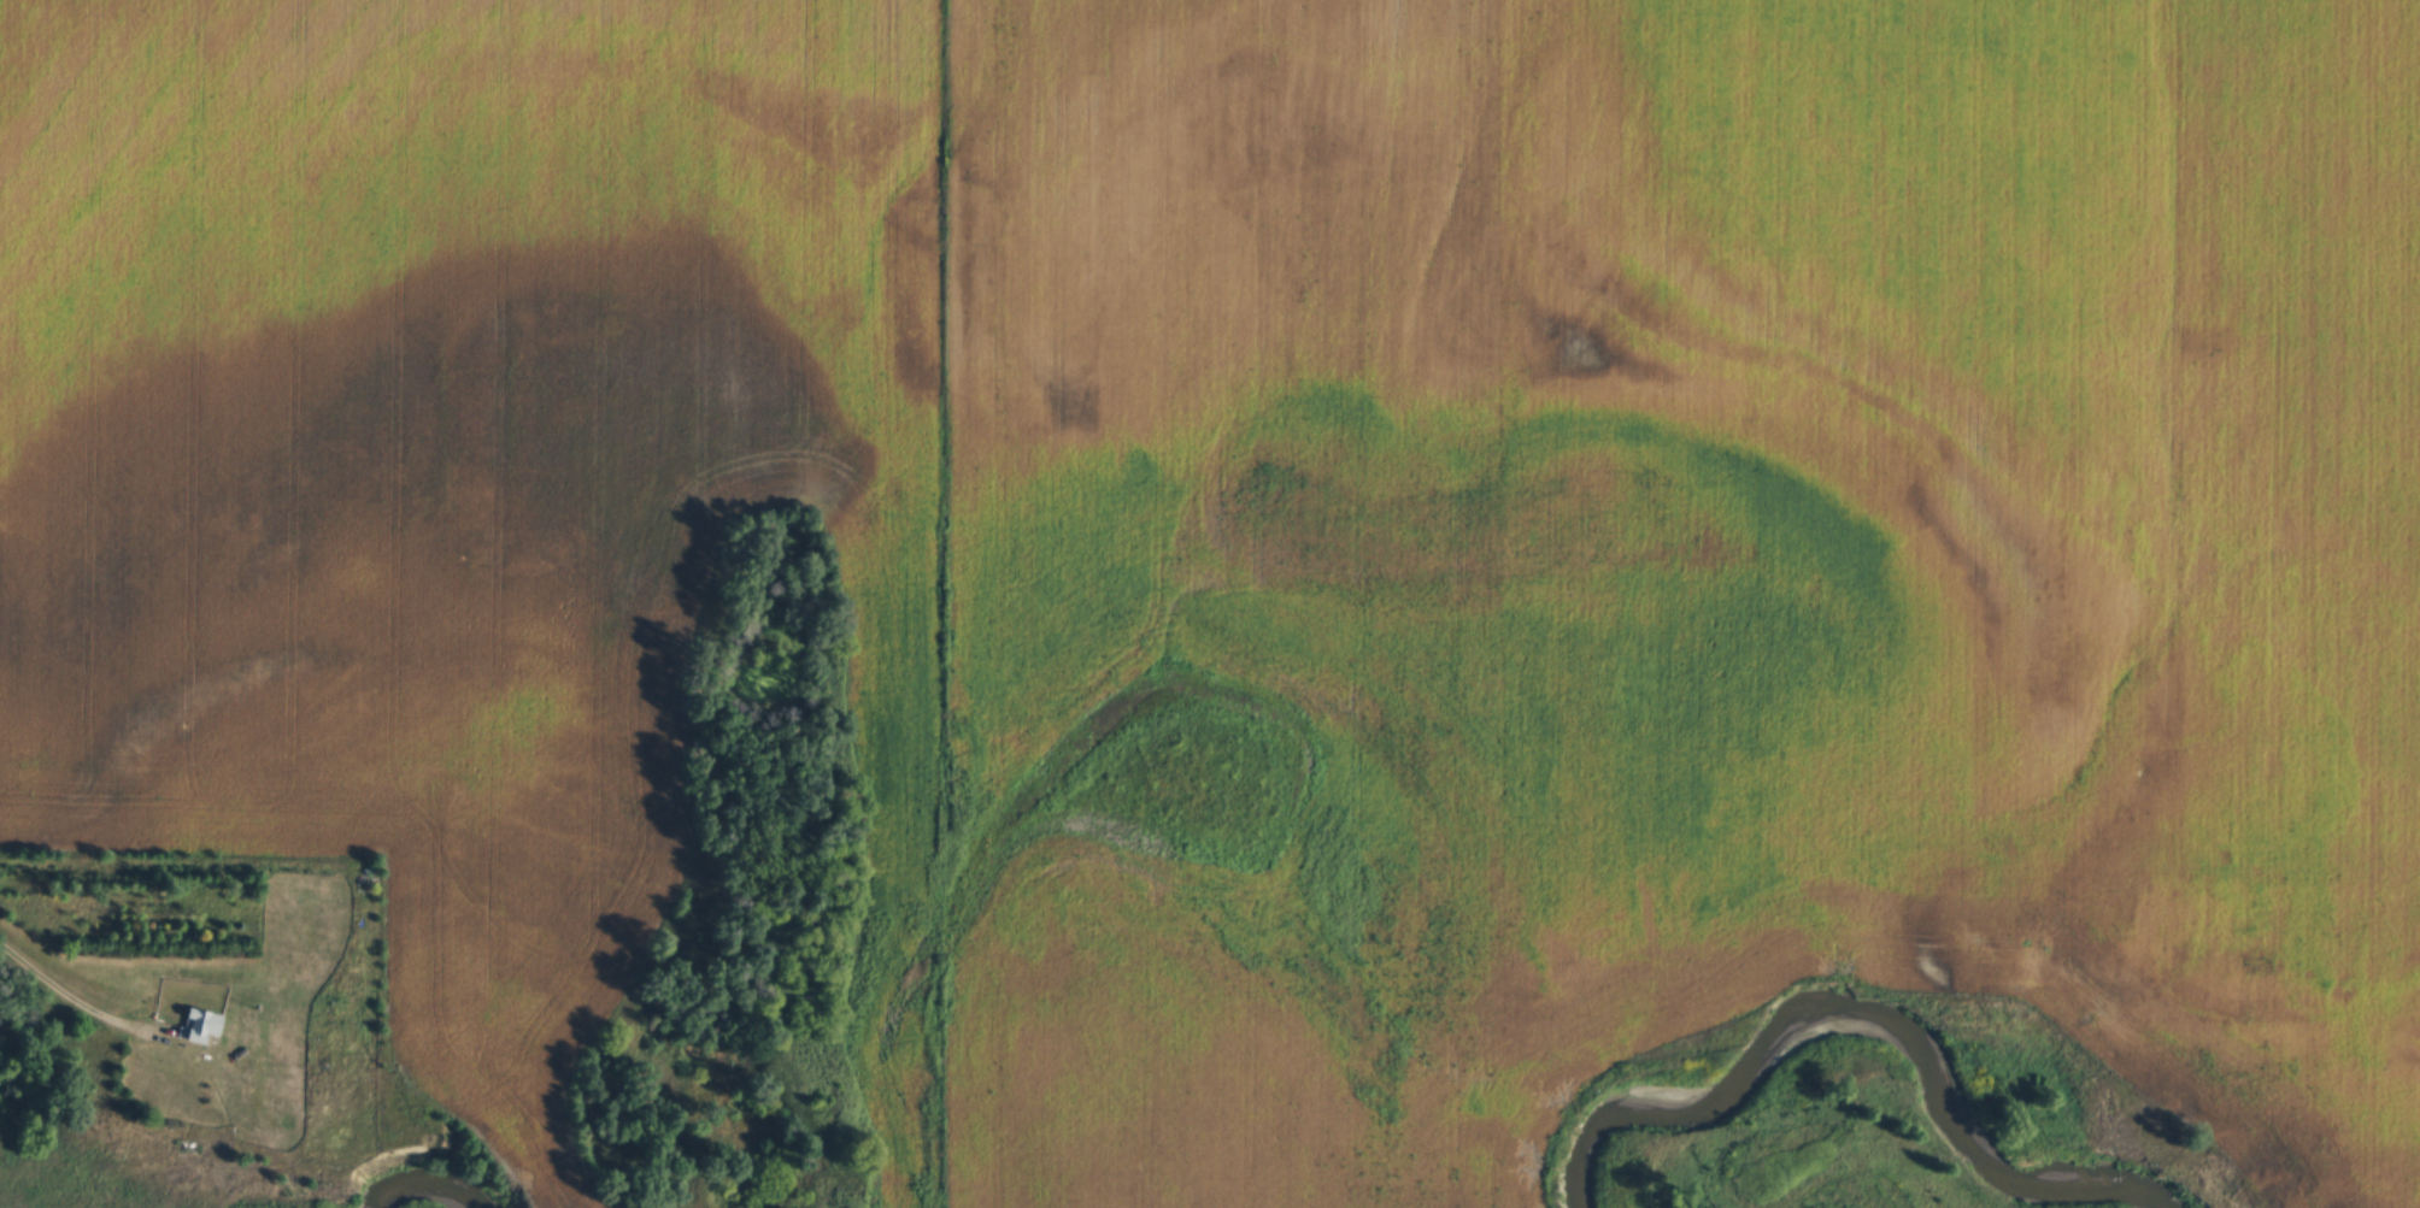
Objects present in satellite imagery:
crop: (1668, 568)
road: (72, 1003)
building: (204, 1029)

